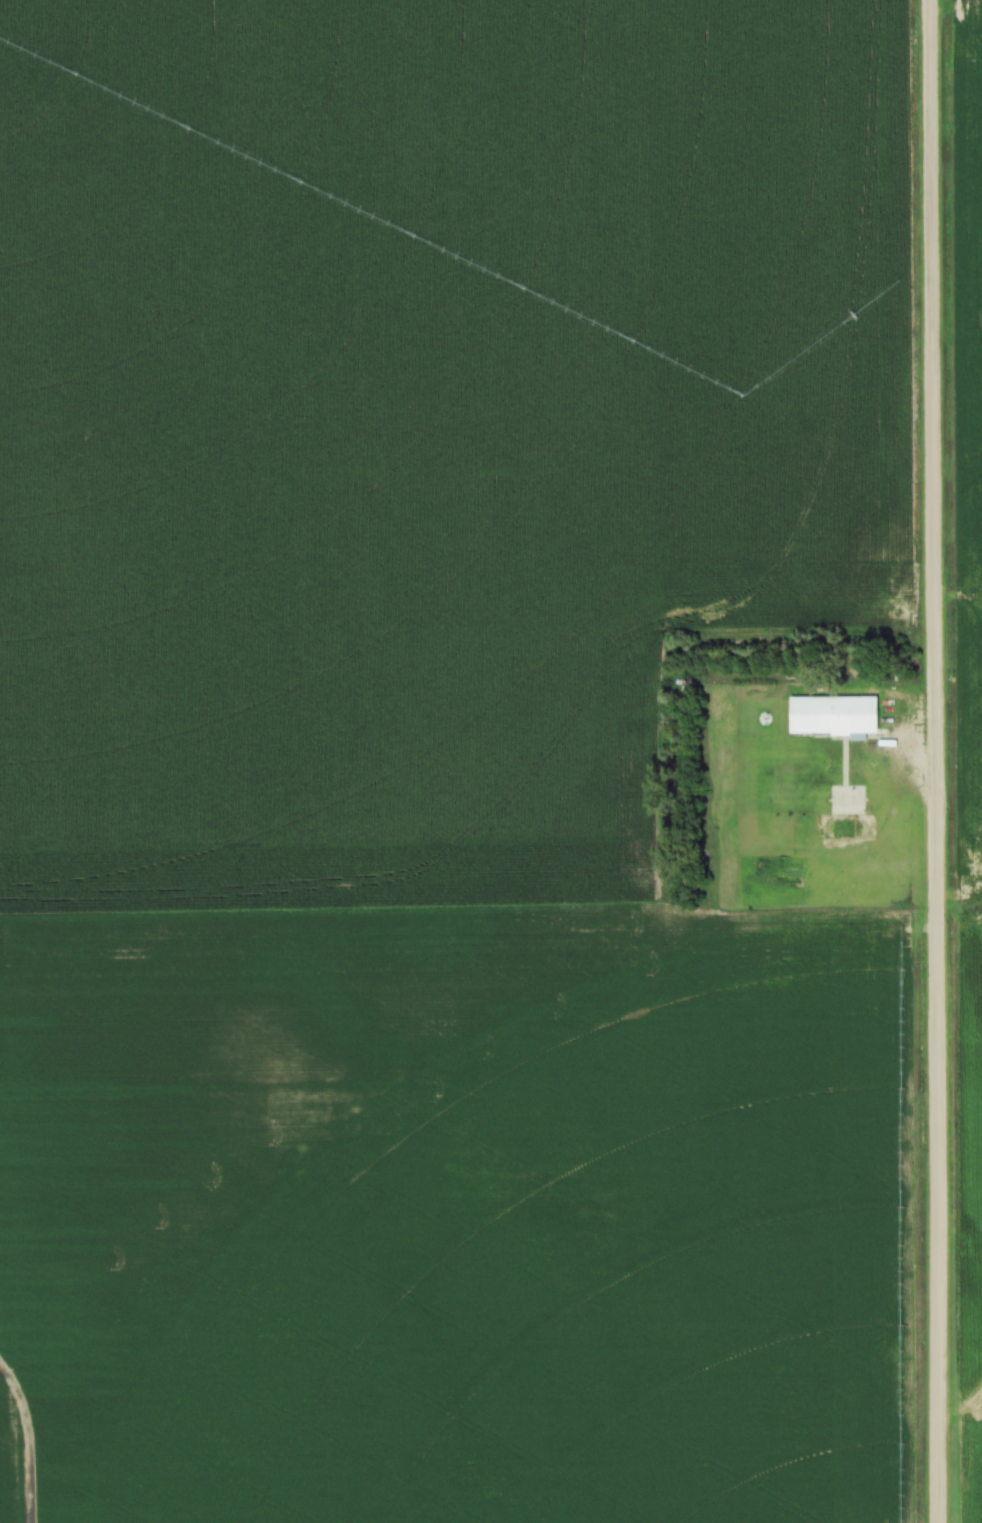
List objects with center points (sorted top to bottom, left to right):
building: (835, 712)
crop: (968, 725)
road: (935, 761)
crop: (435, 762)

